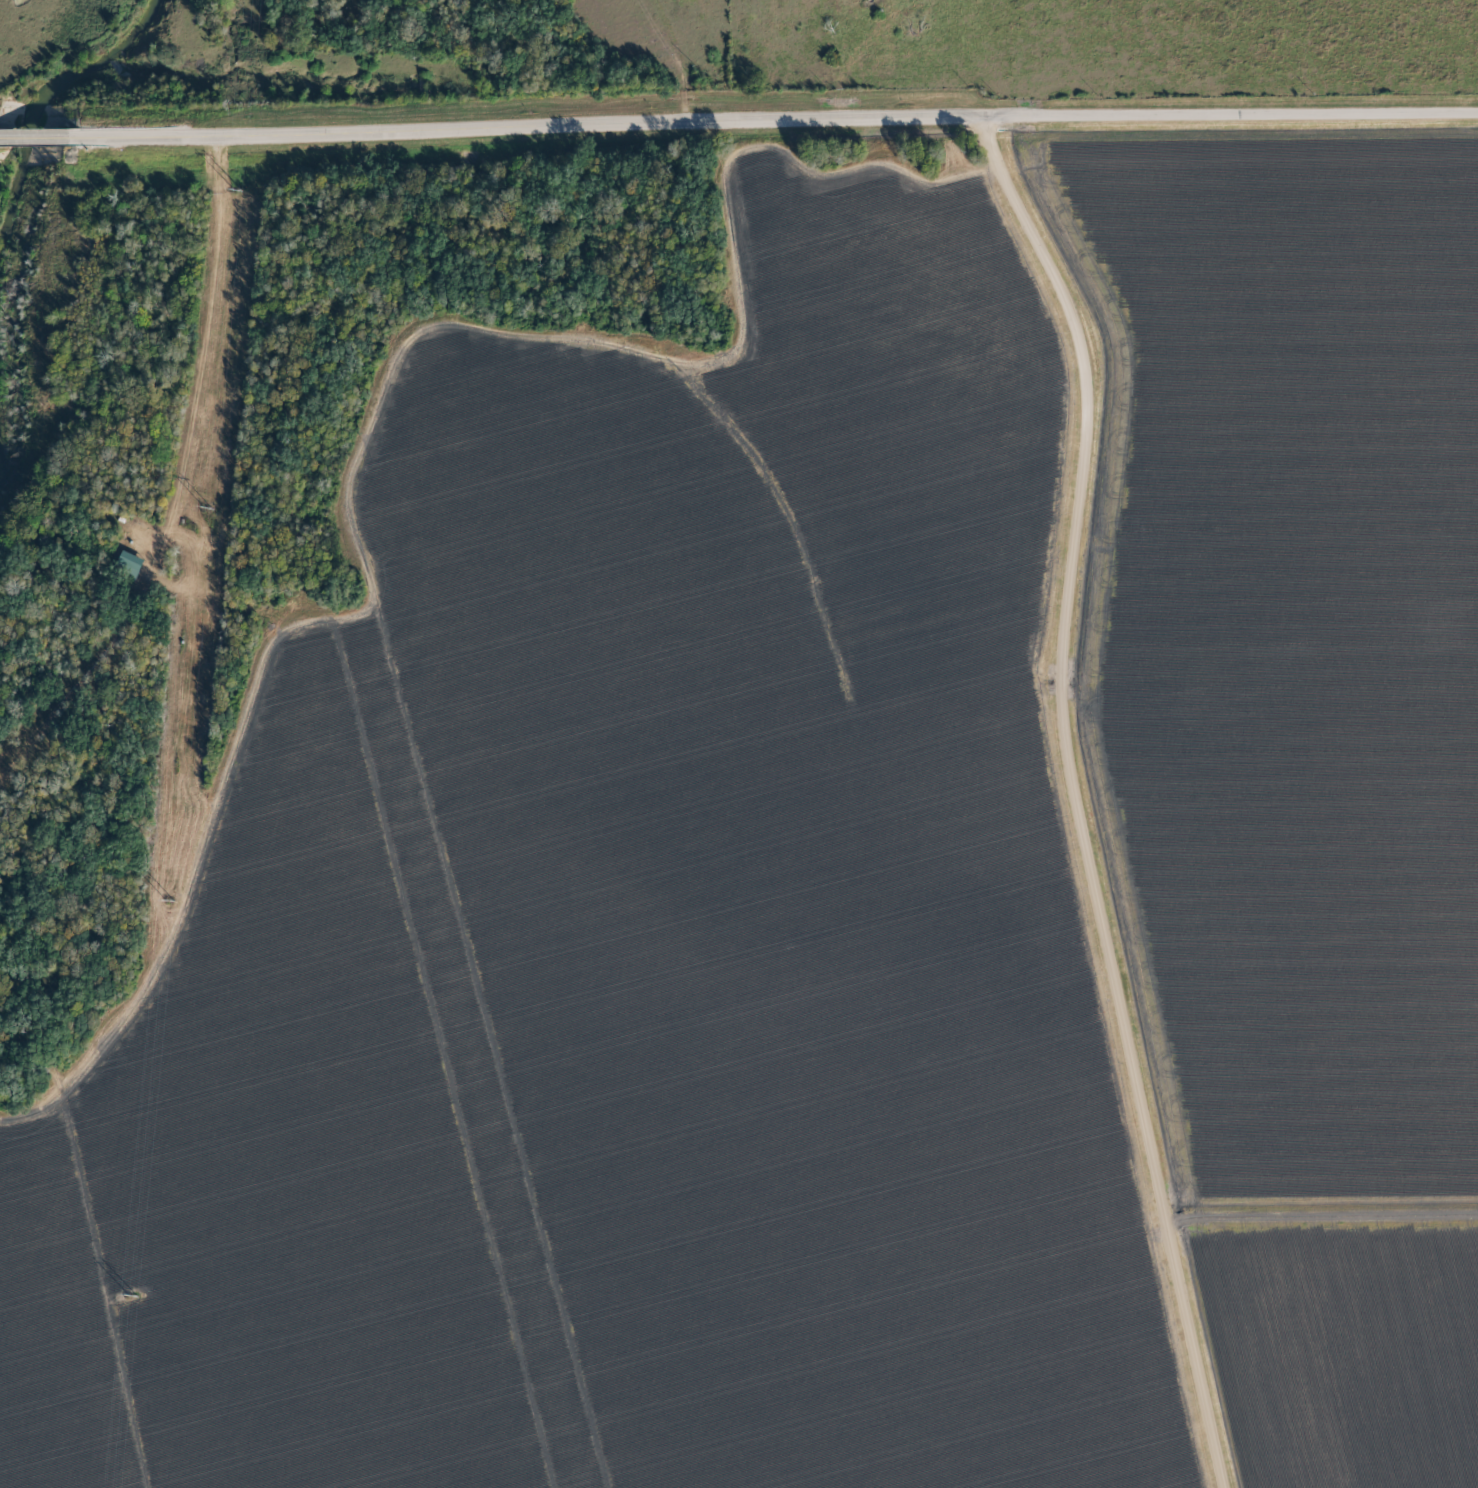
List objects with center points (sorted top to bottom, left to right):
river: (34, 85)
road: (1227, 114)
road: (527, 130)
road: (39, 137)
power tower: (237, 189)
road: (156, 452)
power tower: (209, 508)
building: (135, 562)
road: (1071, 794)
power tower: (168, 902)
power tower: (133, 1294)

